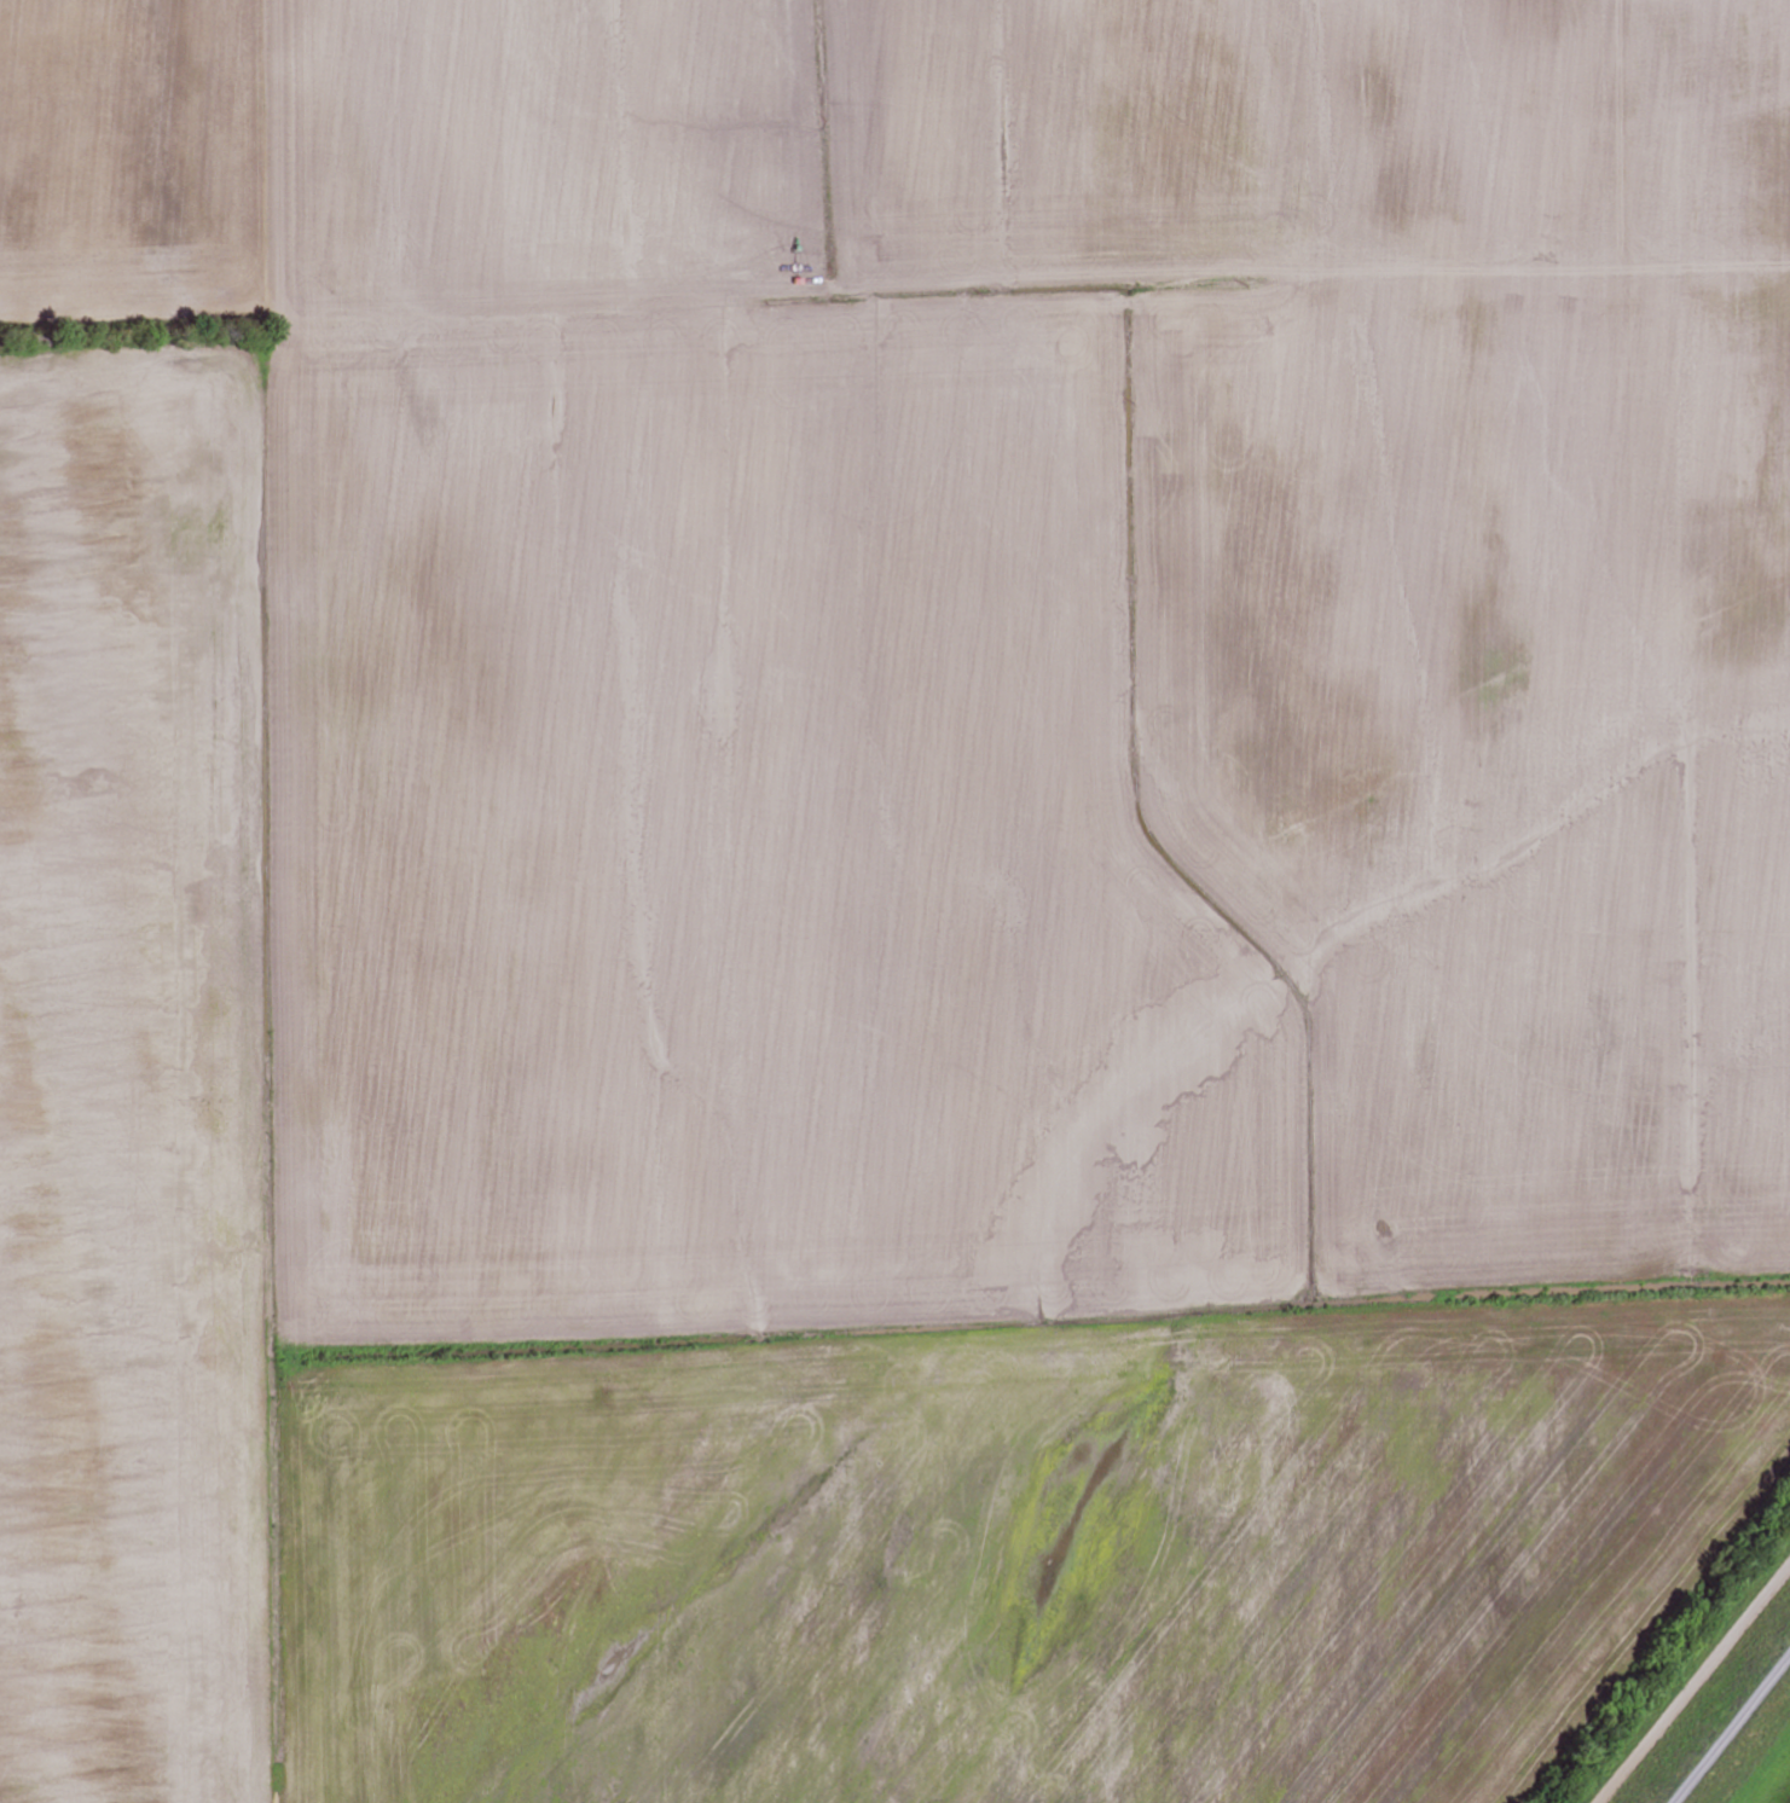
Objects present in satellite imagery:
road: (1695, 1685)
road: (1731, 1728)

